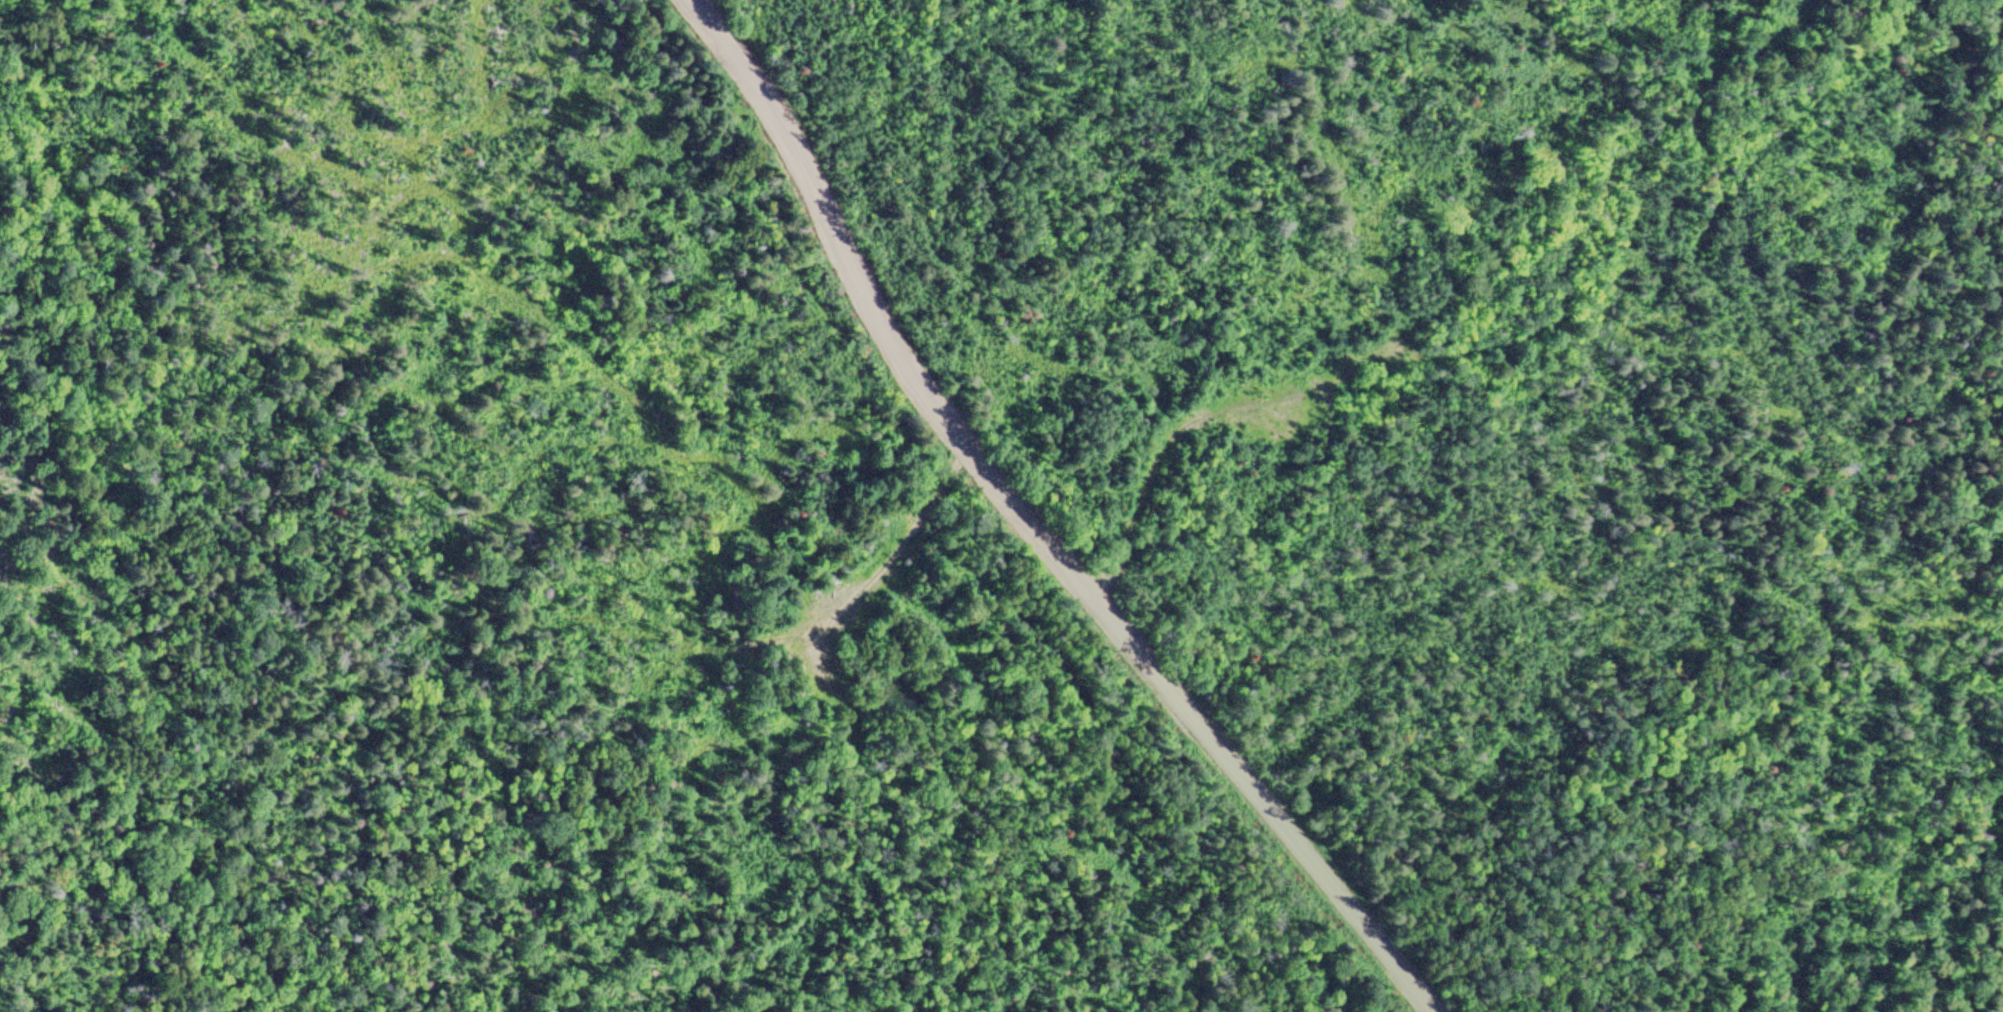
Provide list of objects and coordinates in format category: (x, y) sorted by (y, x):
road: (1029, 527)

